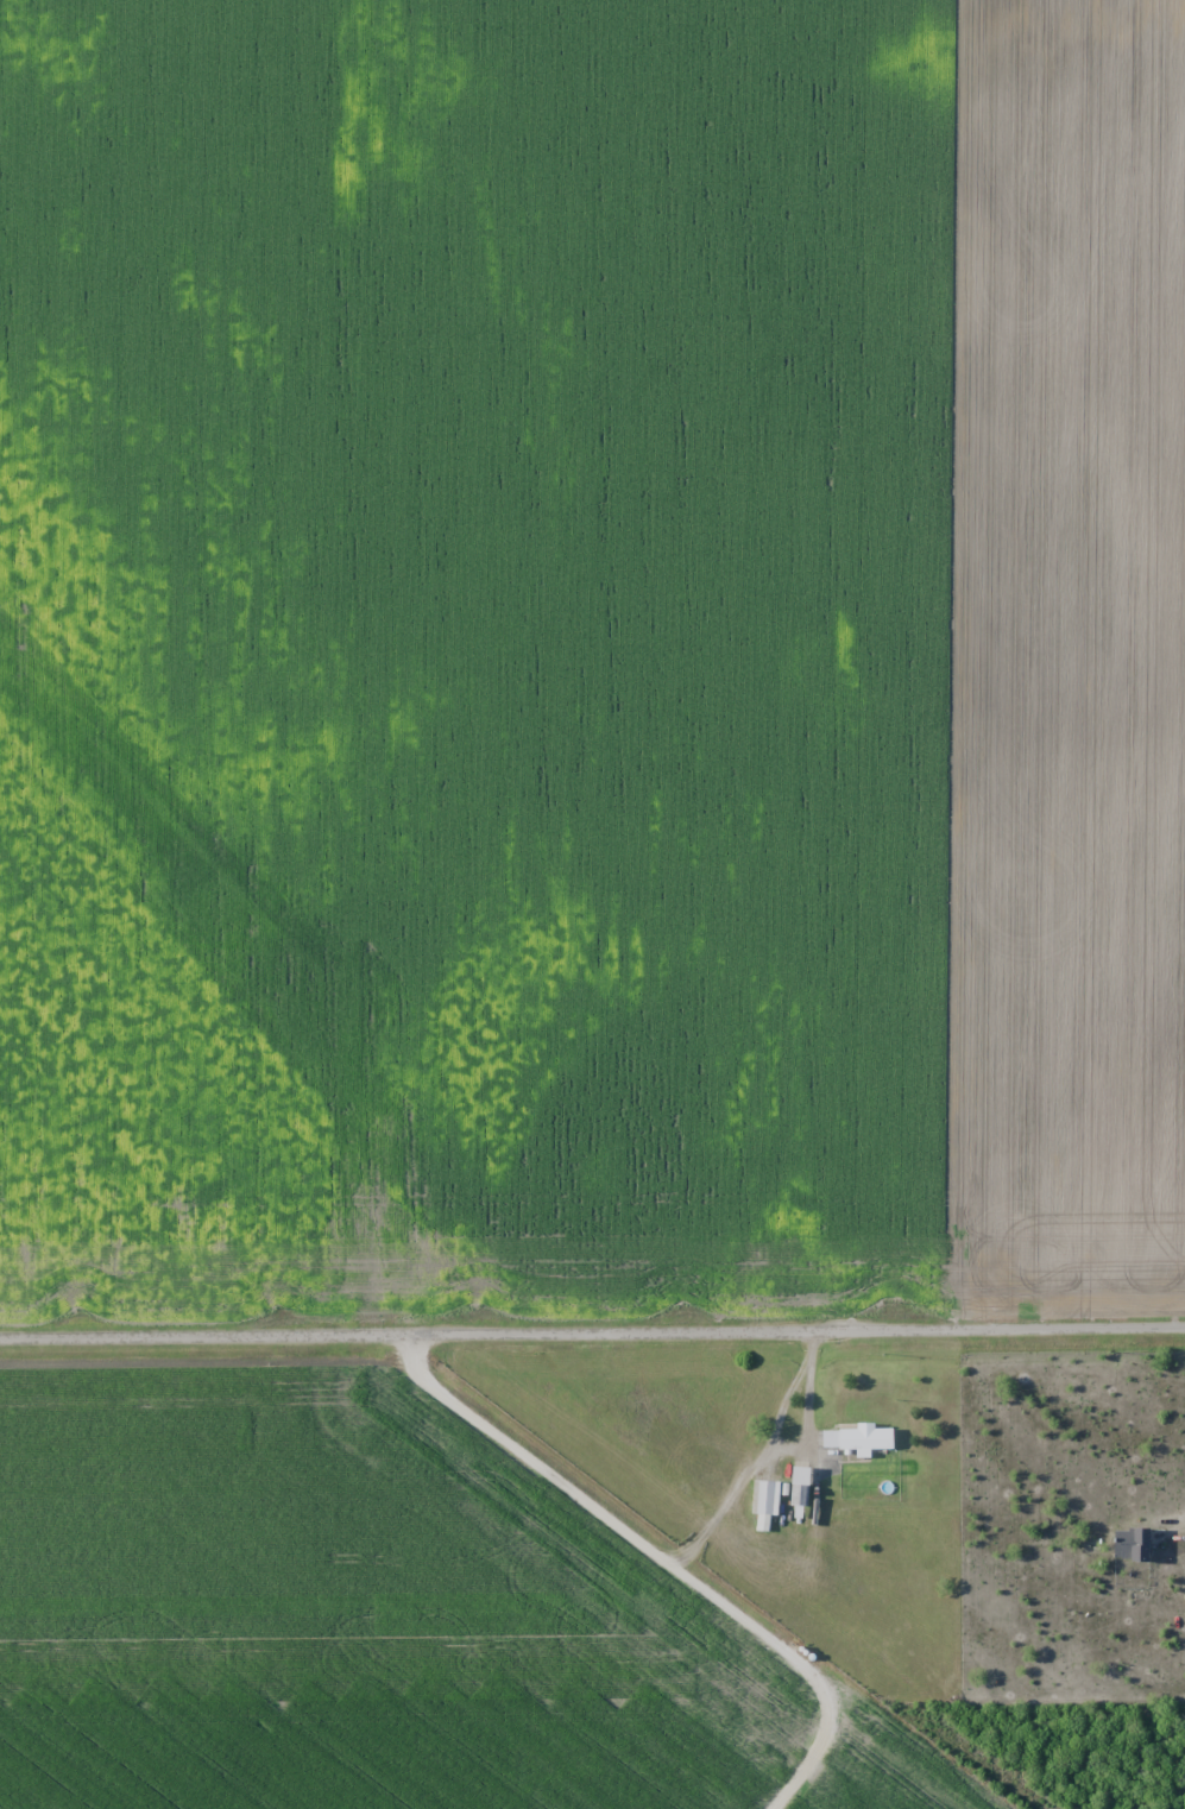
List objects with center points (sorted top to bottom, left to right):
road: (592, 1323)
building: (859, 1439)
building: (800, 1494)
building: (1135, 1544)

